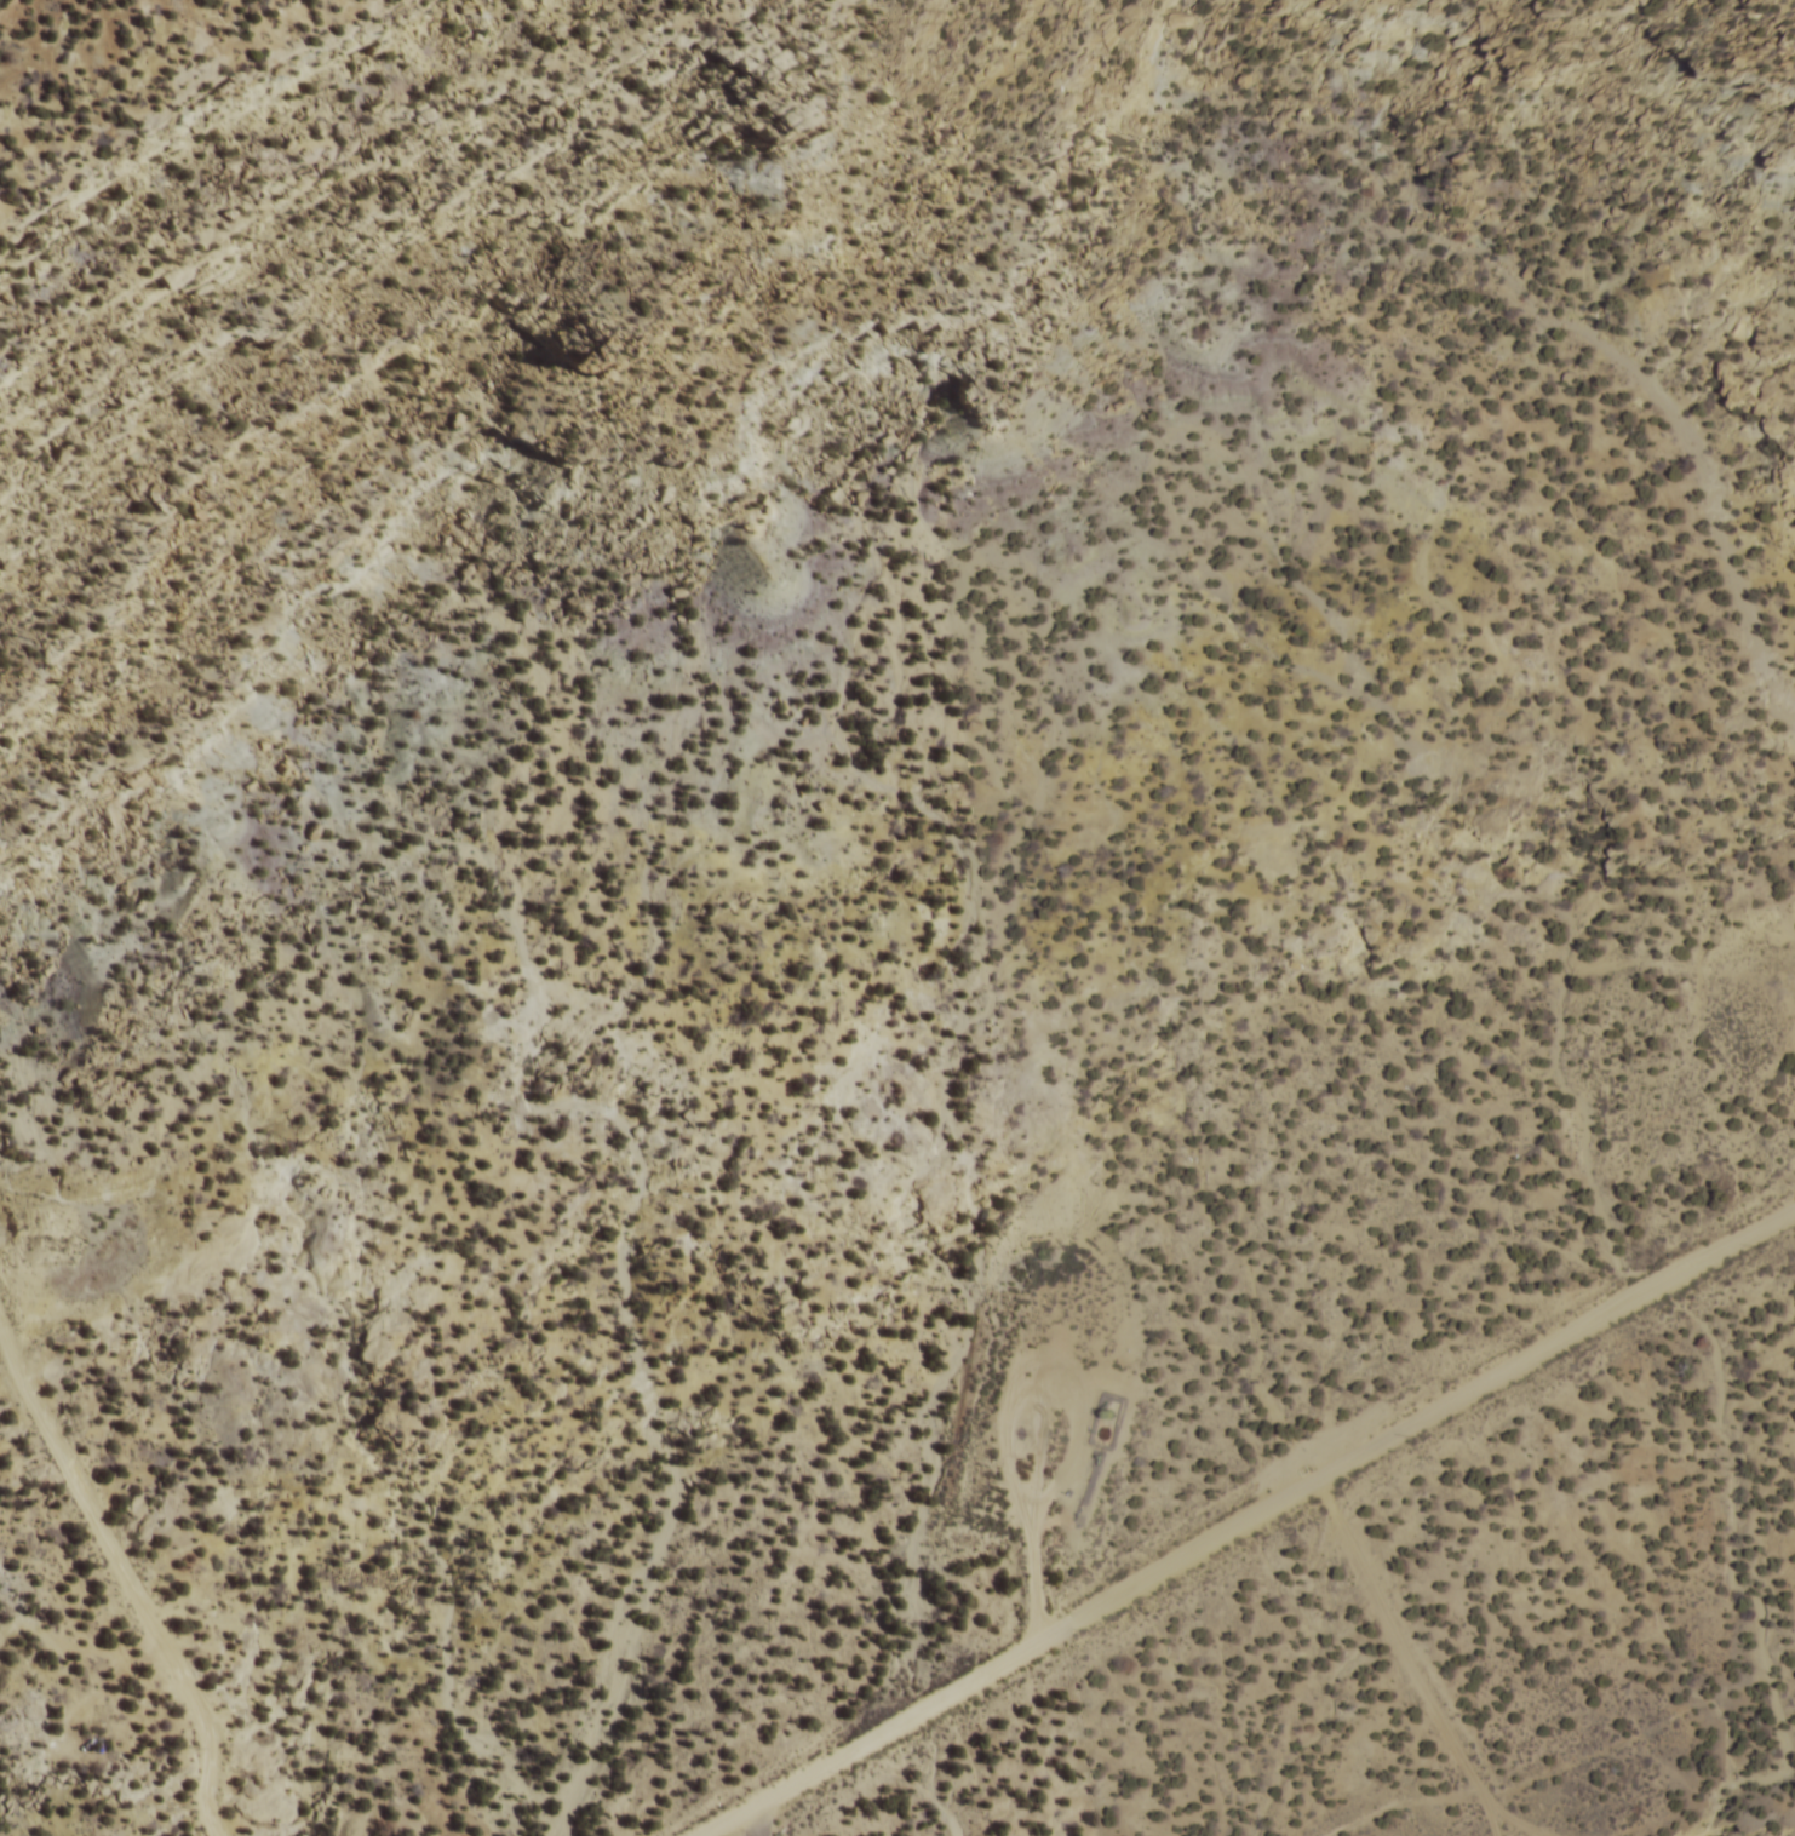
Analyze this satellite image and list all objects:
road: (1007, 1408)
road: (1249, 1522)
road: (130, 1574)
road: (1410, 1646)
road: (756, 1823)
road: (1501, 1824)
road: (1509, 1824)

